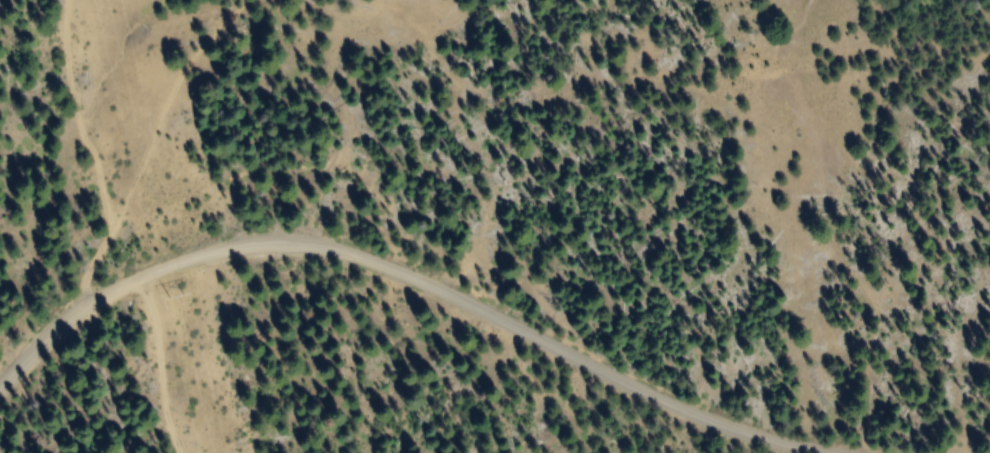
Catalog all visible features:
power tower: (167, 295)
road: (368, 303)

